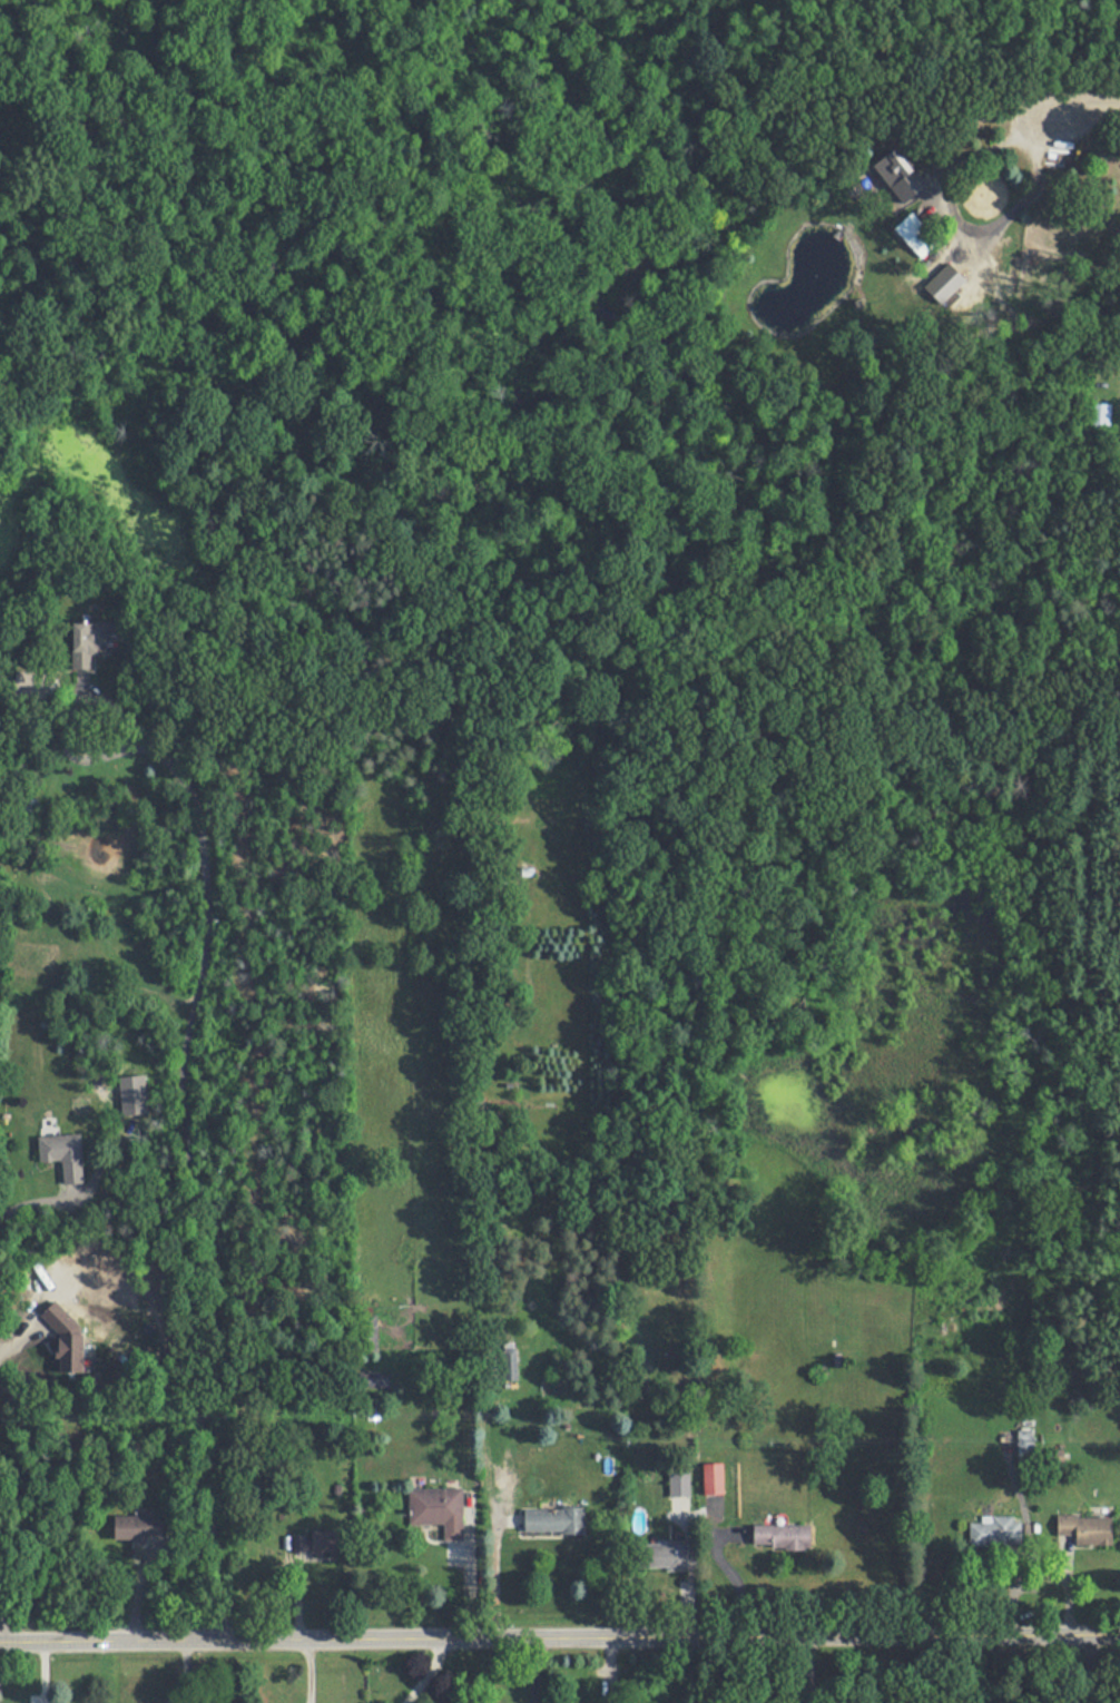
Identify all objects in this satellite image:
road: (1079, 106)
road: (986, 146)
building: (894, 167)
road: (1020, 205)
building: (915, 235)
building: (1099, 415)
building: (90, 640)
building: (63, 1153)
road: (189, 1154)
road: (24, 1202)
building: (68, 1338)
building: (509, 1364)
building: (379, 1380)
building: (1024, 1446)
building: (716, 1478)
building: (679, 1485)
building: (438, 1509)
building: (554, 1520)
building: (138, 1527)
building: (1088, 1529)
building: (994, 1532)
building: (783, 1536)
building: (317, 1544)
building: (667, 1556)
road: (495, 1572)
road: (729, 1572)
road: (559, 1632)
road: (531, 1667)

